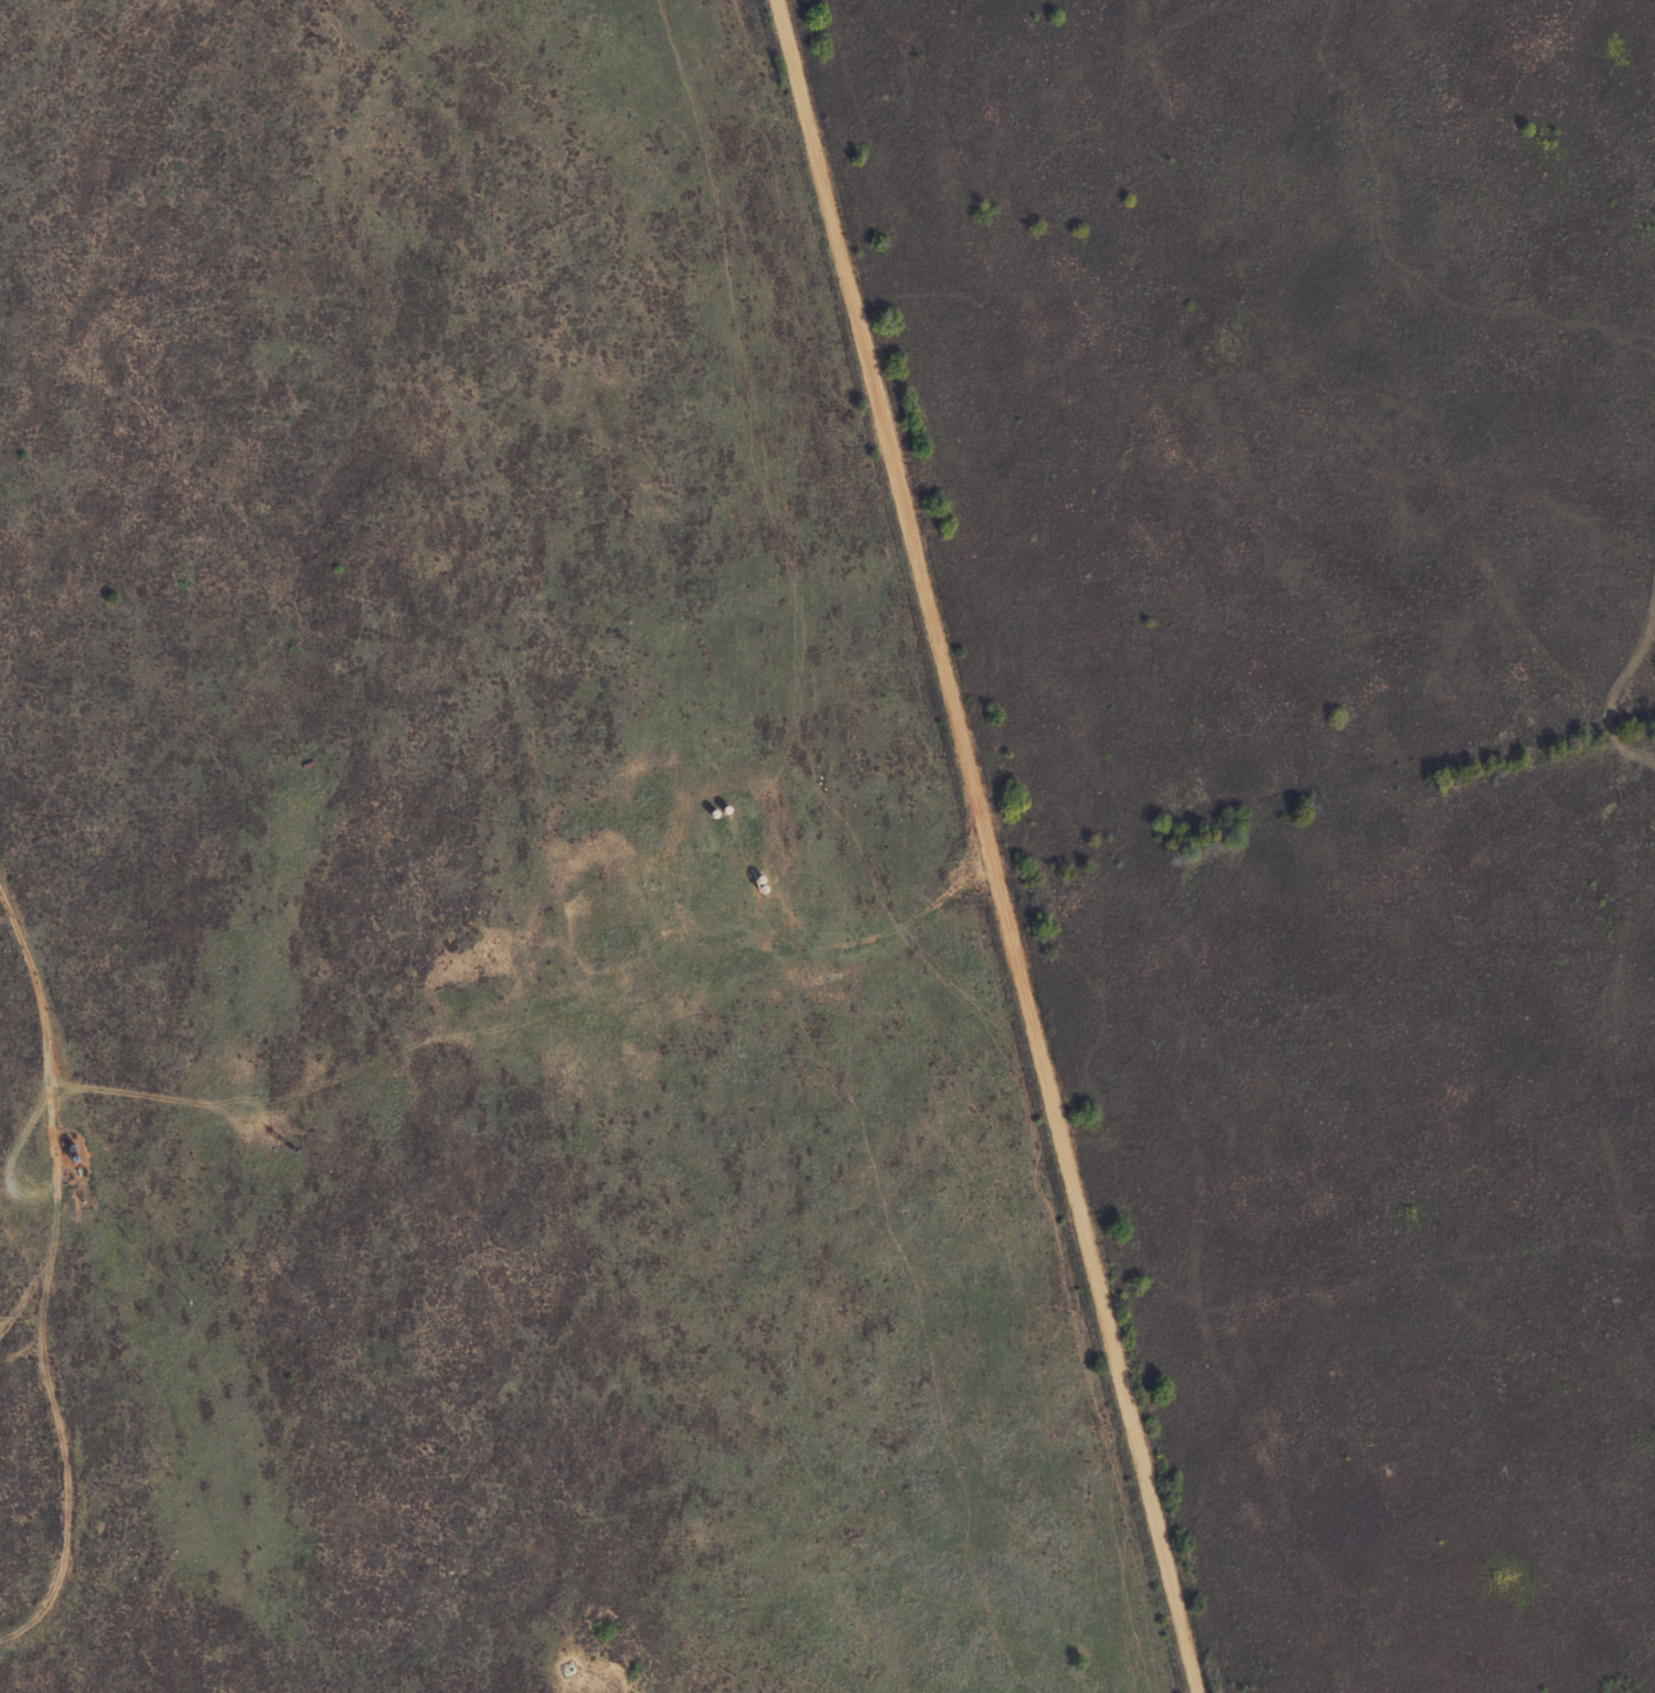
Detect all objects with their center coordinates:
road: (1616, 685)
road: (983, 845)
road: (32, 993)
road: (536, 1019)
road: (51, 1175)
road: (22, 1293)
road: (61, 1459)

